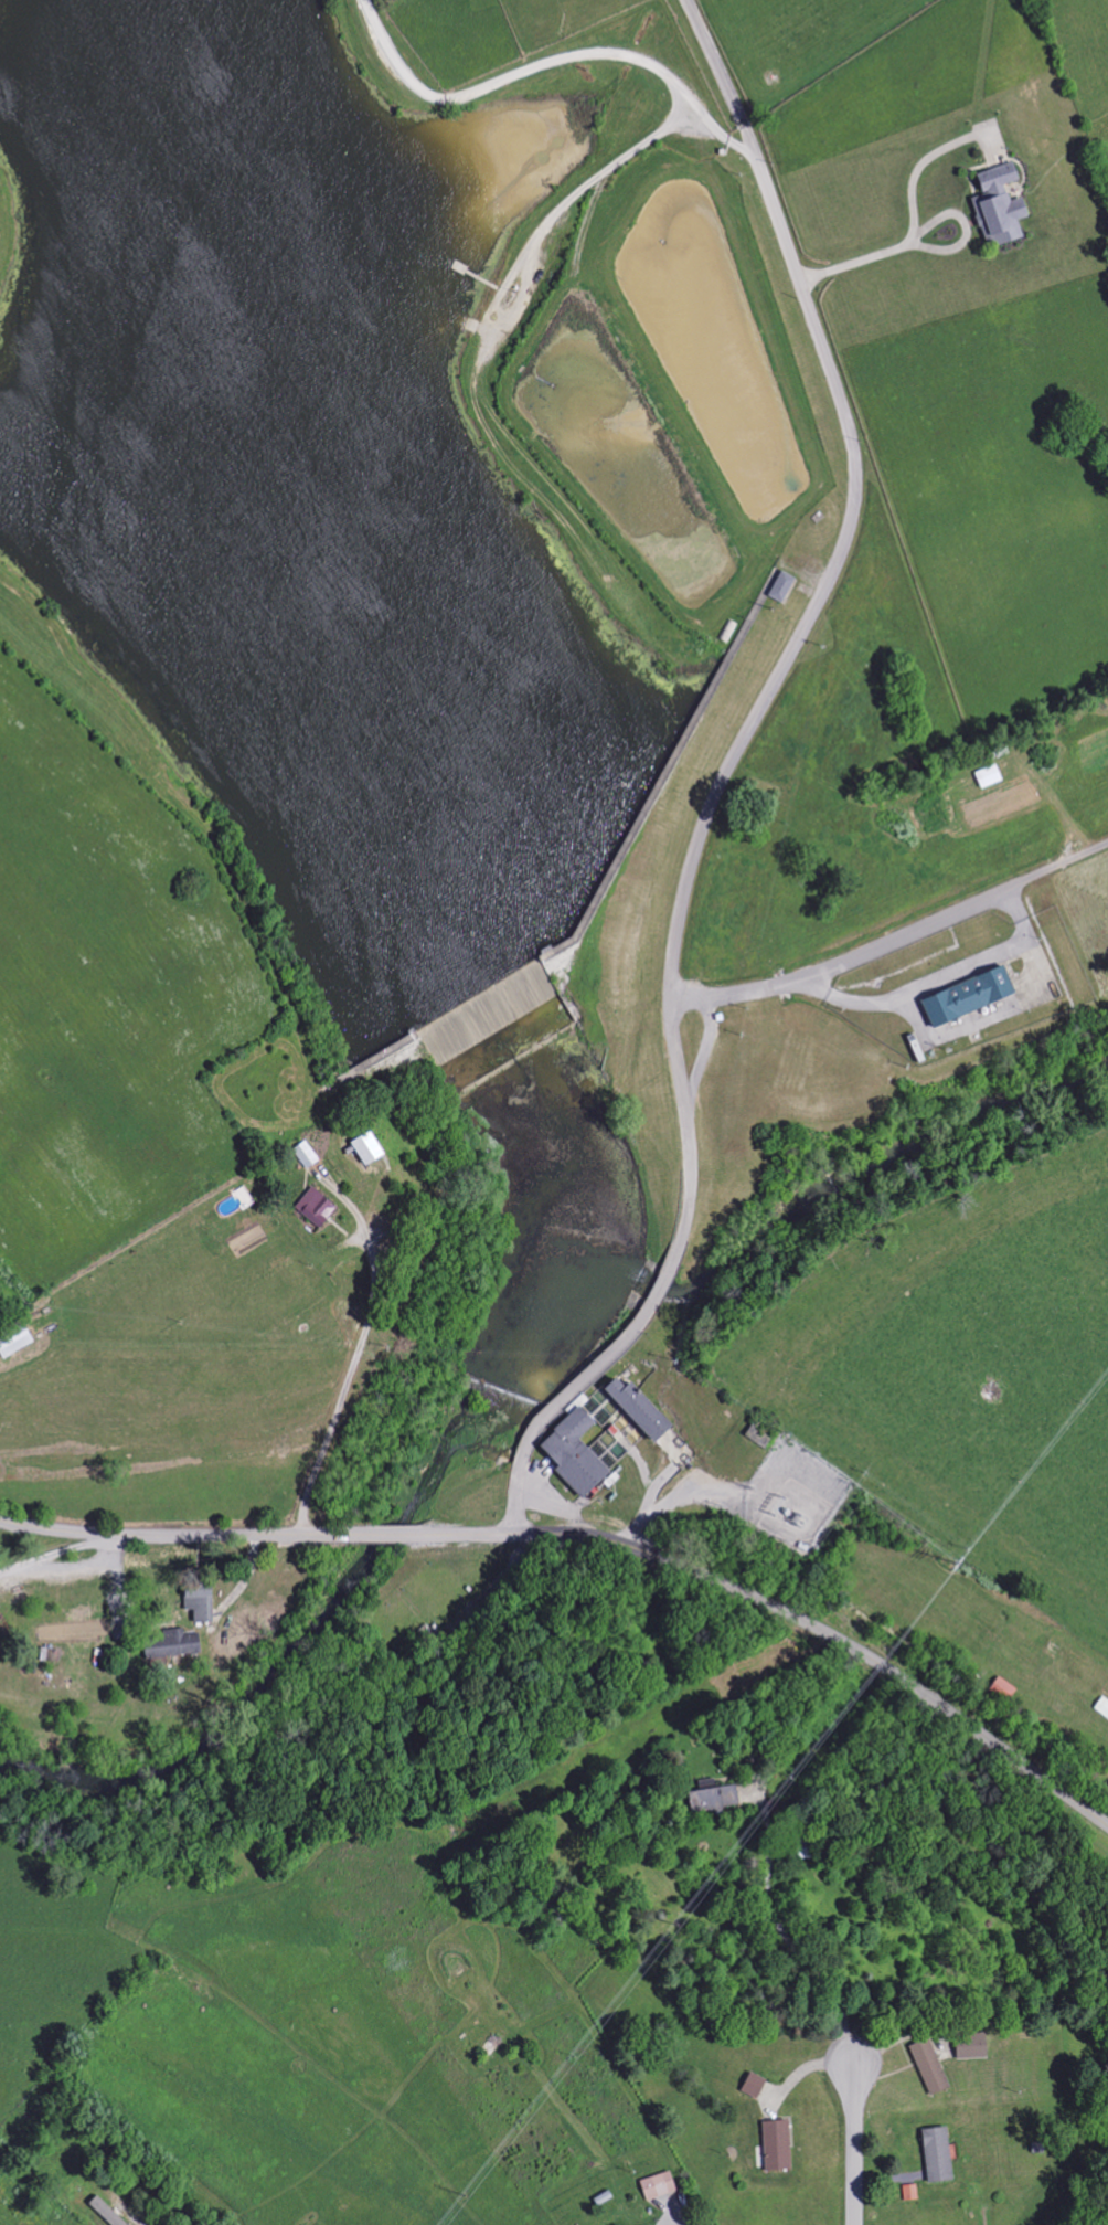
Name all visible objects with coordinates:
road: (550, 63)
road: (723, 76)
building: (995, 205)
road: (910, 226)
building: (778, 586)
road: (763, 704)
dam: (639, 810)
road: (894, 940)
road: (938, 986)
building: (963, 996)
dam: (375, 1053)
road: (702, 1056)
building: (362, 1148)
building: (302, 1154)
building: (312, 1208)
road: (662, 1284)
building: (11, 1339)
road: (345, 1380)
road: (561, 1406)
building: (635, 1409)
building: (571, 1454)
road: (387, 1534)
road: (179, 1536)
road: (60, 1553)
building: (195, 1603)
road: (787, 1610)
building: (169, 1644)
building: (1002, 1689)
building: (711, 1799)
road: (782, 1936)
building: (968, 2046)
building: (926, 2066)
building: (750, 2085)
building: (774, 2144)
road: (852, 2144)
building: (934, 2154)
building: (656, 2185)
building: (908, 2192)
building: (103, 2212)
road: (130, 2216)
road: (675, 2219)

